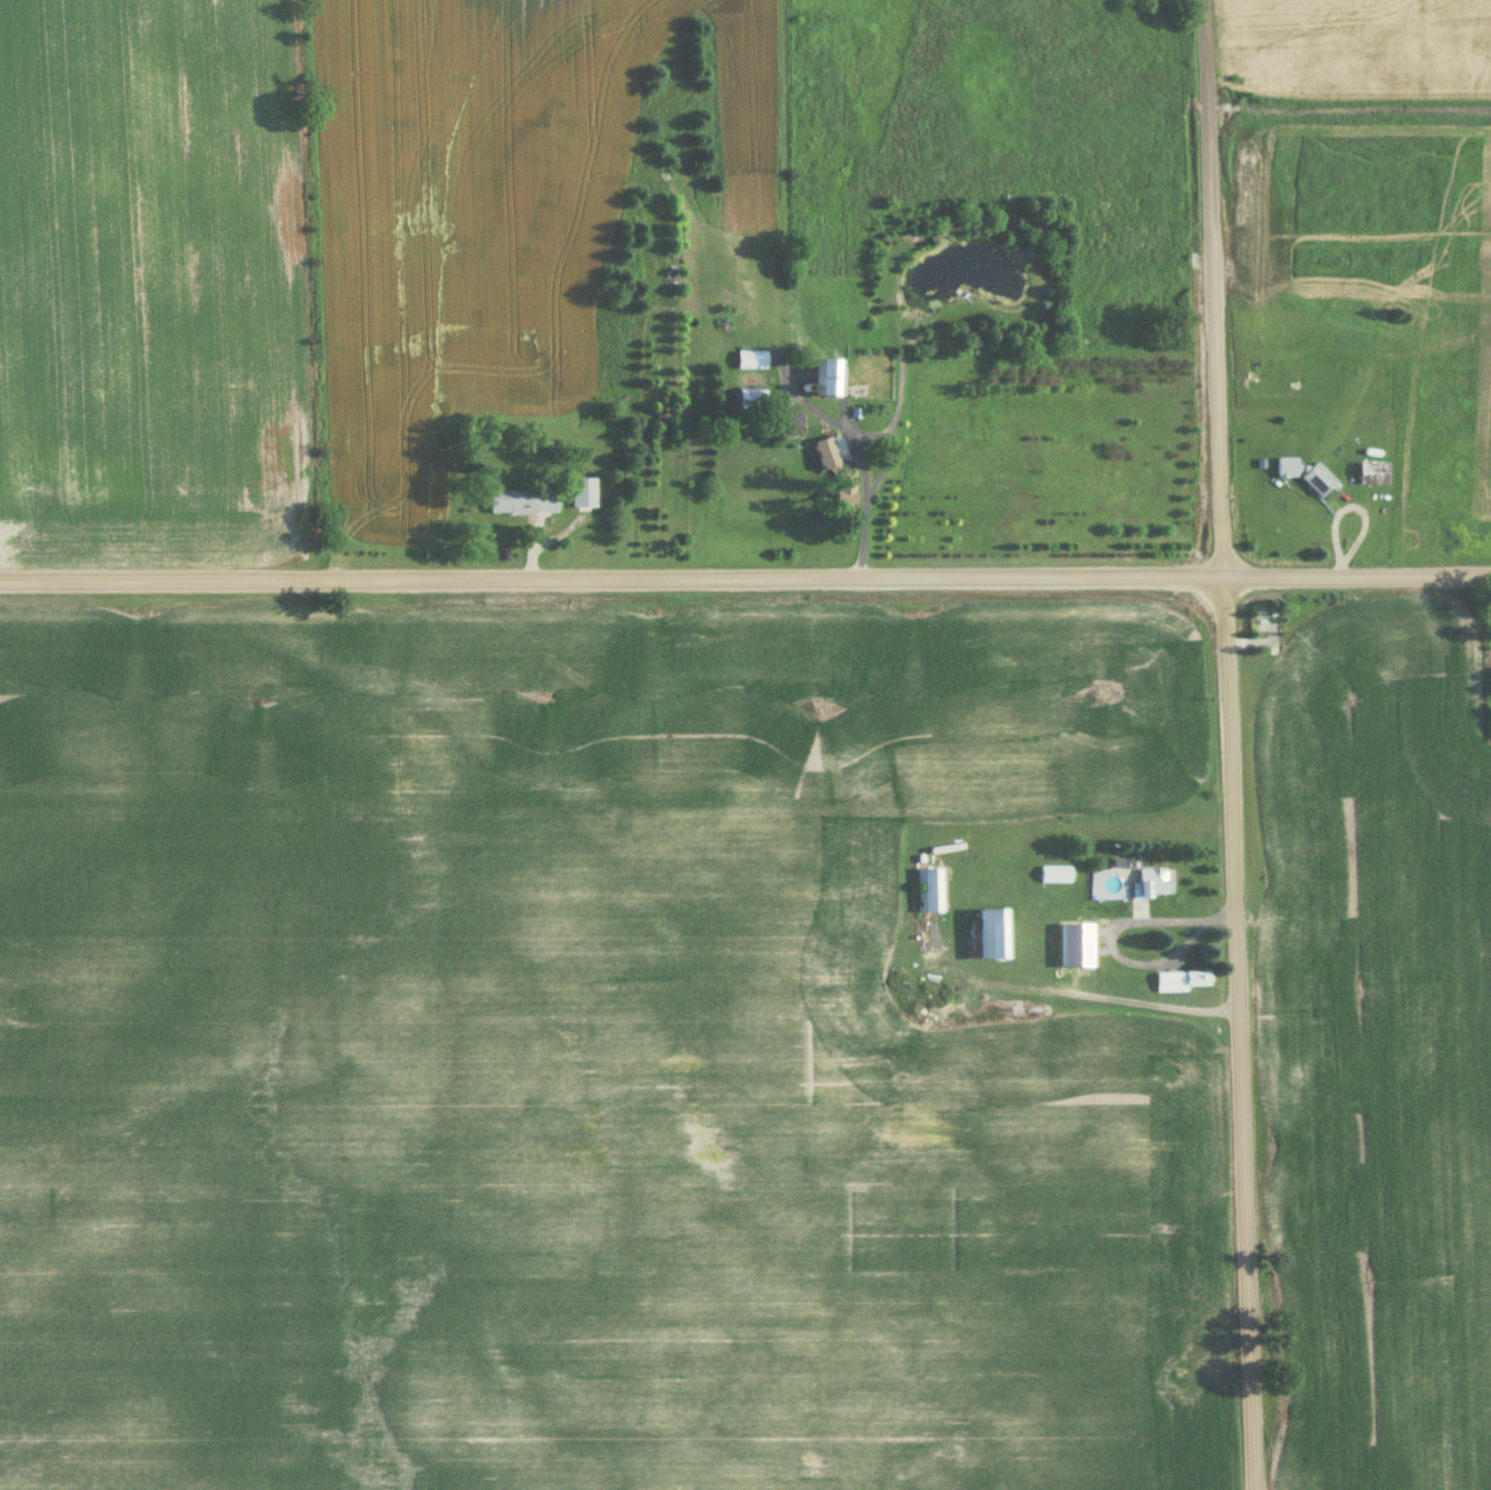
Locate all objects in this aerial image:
building: (752, 361)
building: (827, 379)
building: (752, 401)
building: (793, 423)
road: (888, 428)
road: (856, 455)
building: (1373, 474)
building: (1308, 477)
building: (524, 503)
road: (745, 581)
building: (1265, 621)
road: (1228, 745)
building: (1057, 876)
building: (1156, 884)
building: (930, 891)
building: (996, 936)
road: (1113, 937)
building: (1079, 950)
building: (1182, 982)
road: (1079, 992)

